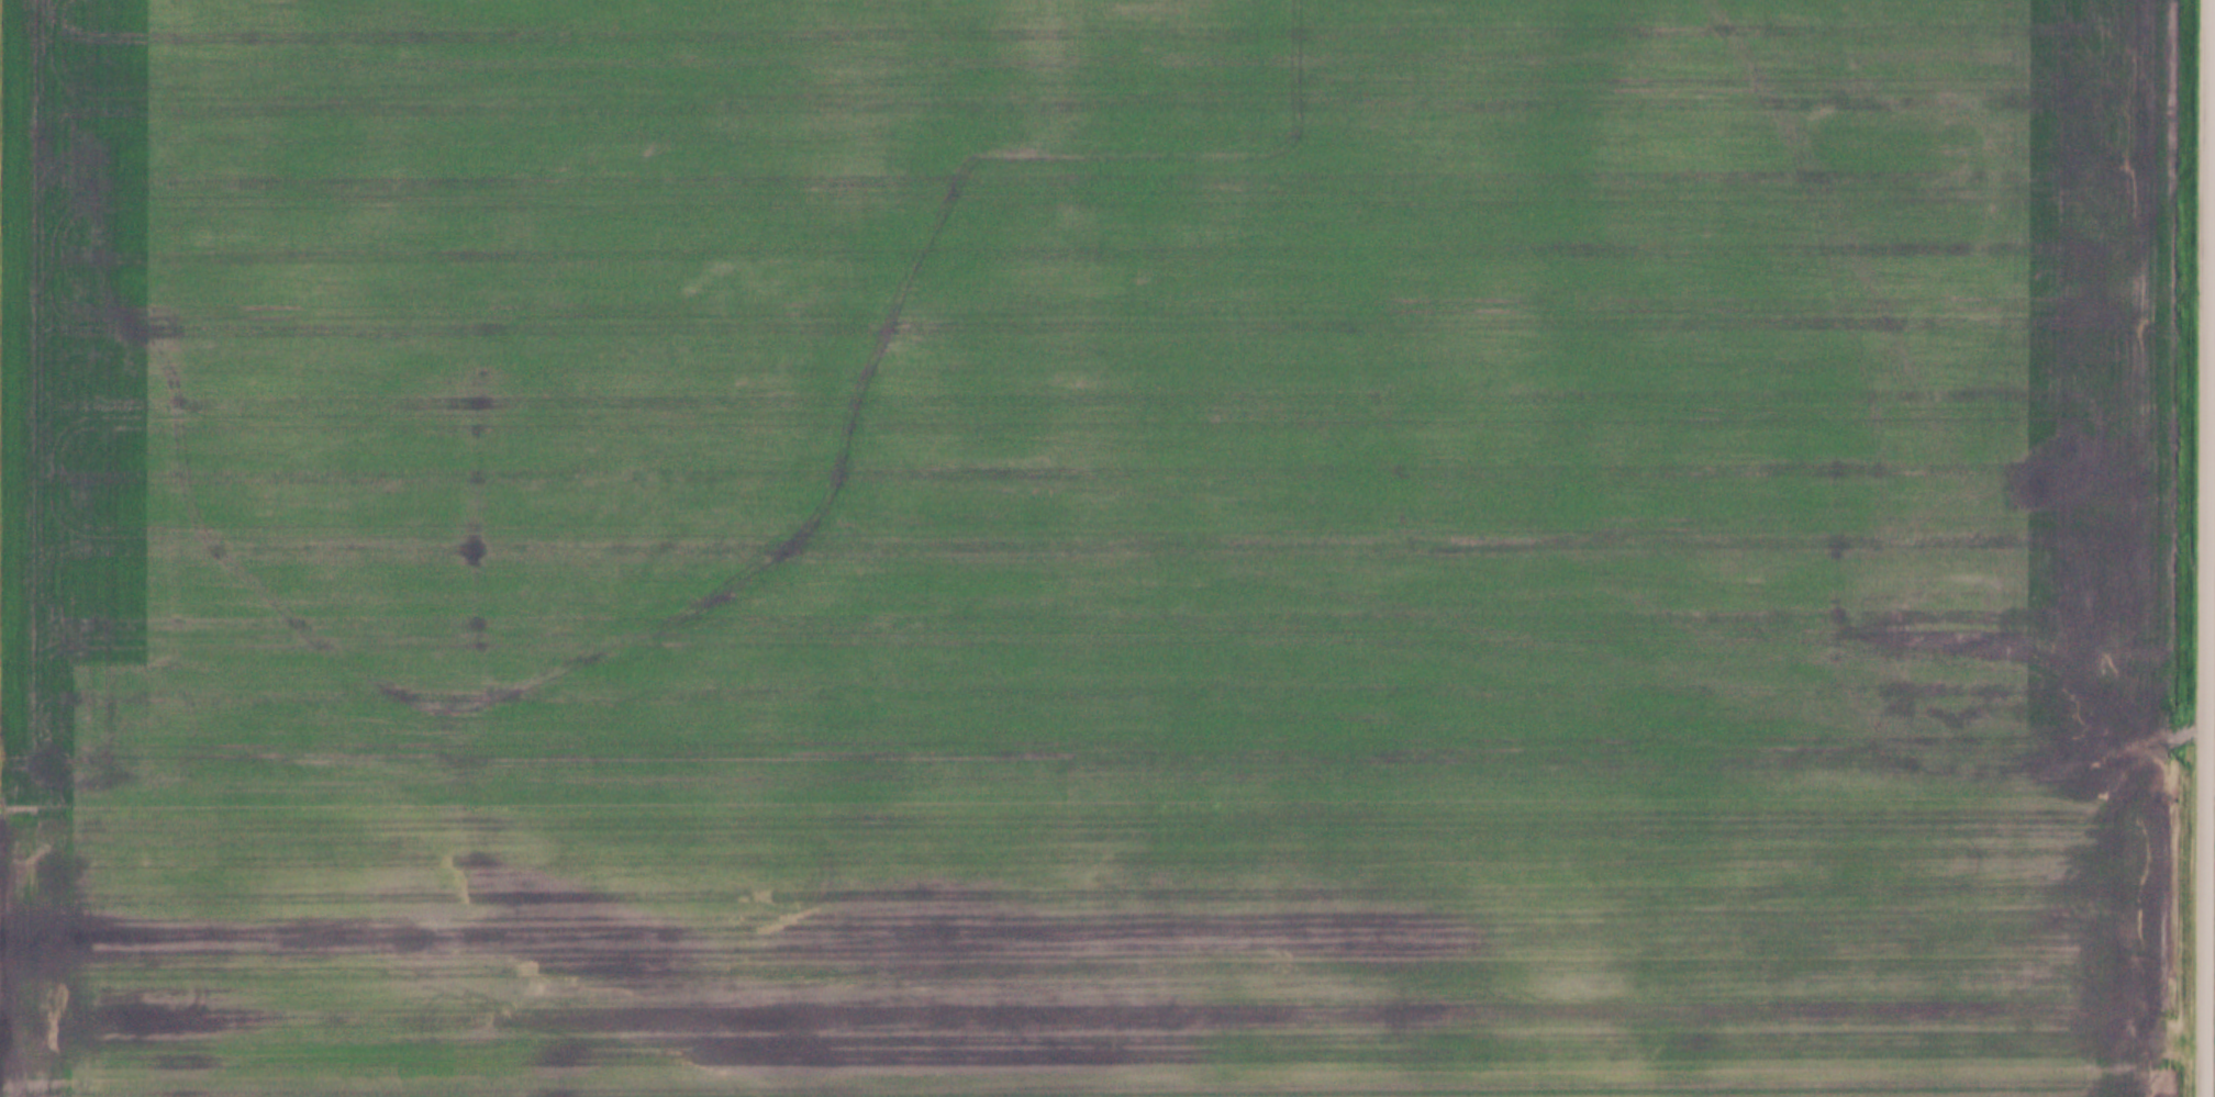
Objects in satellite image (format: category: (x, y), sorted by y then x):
road: (2214, 903)

